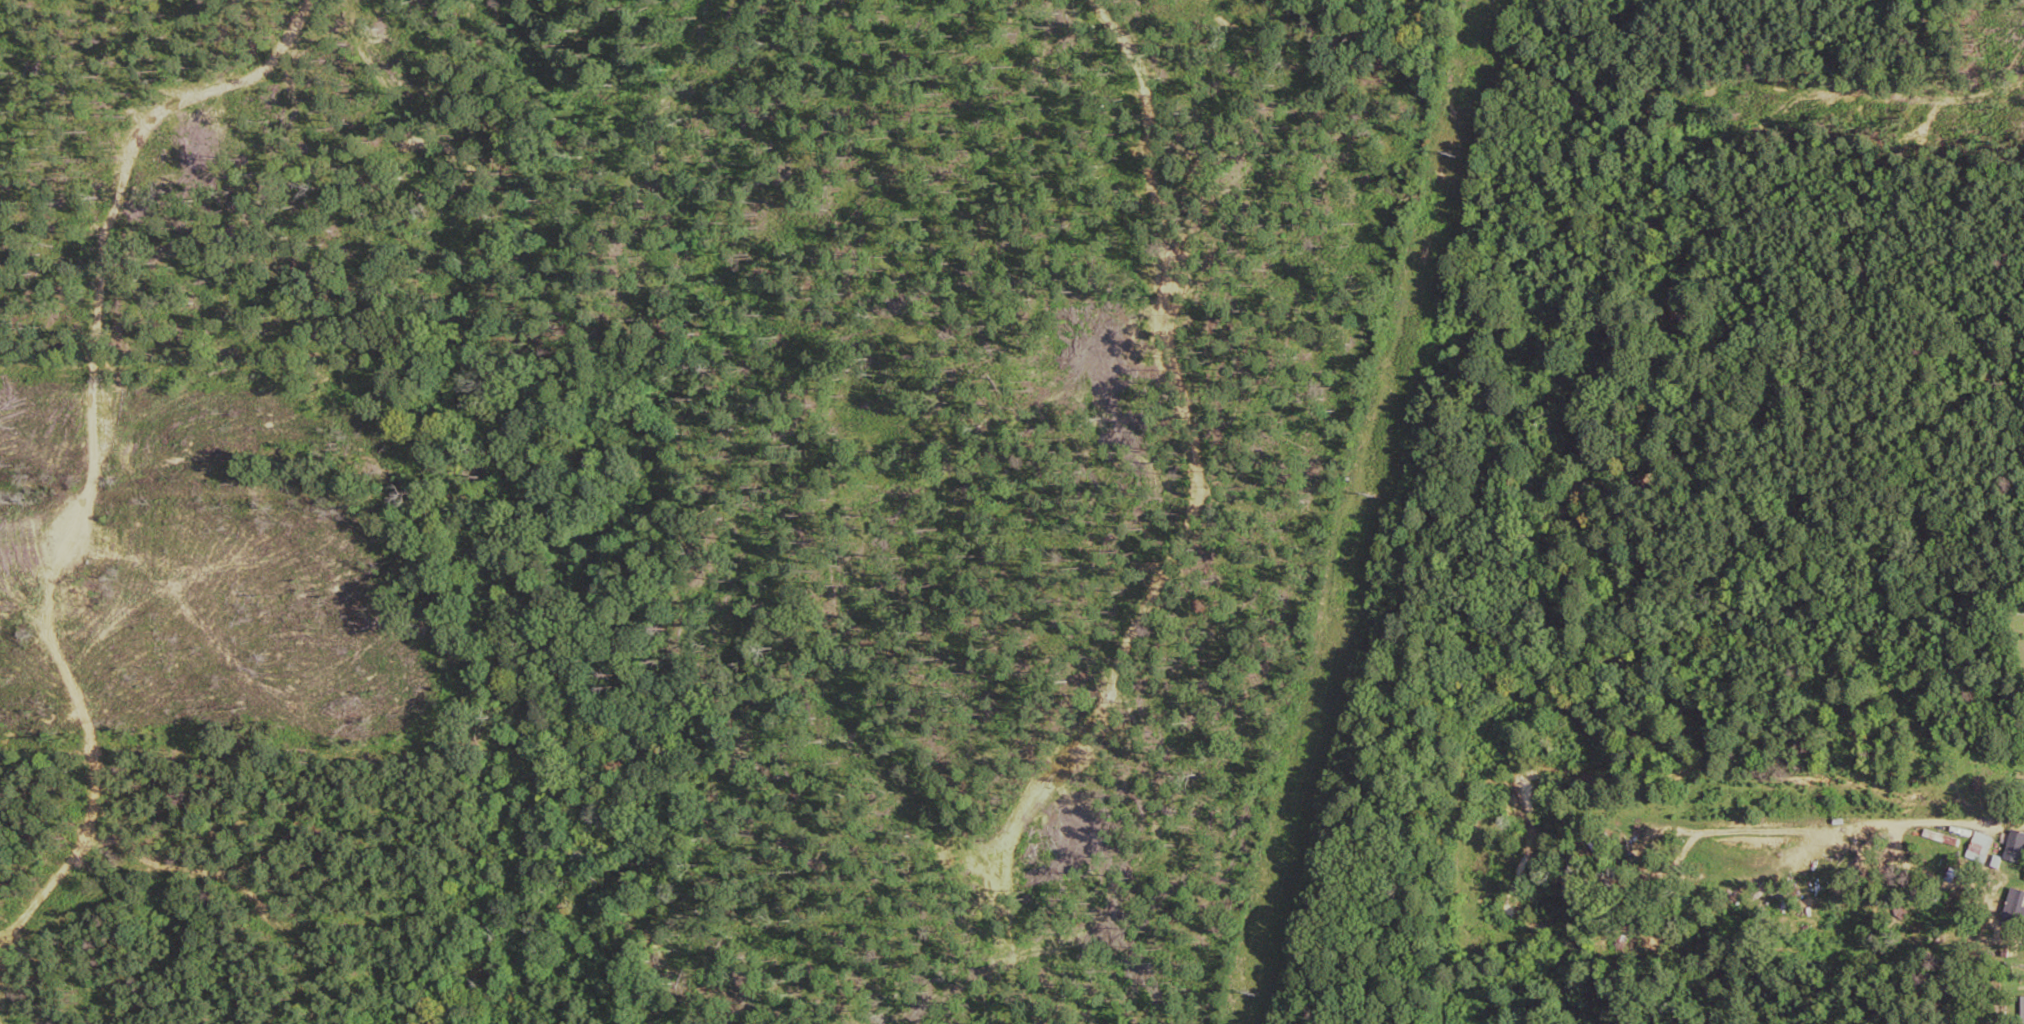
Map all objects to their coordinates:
building: (1982, 840)
building: (2016, 845)
road: (1734, 898)
building: (2015, 905)
building: (2022, 1009)

